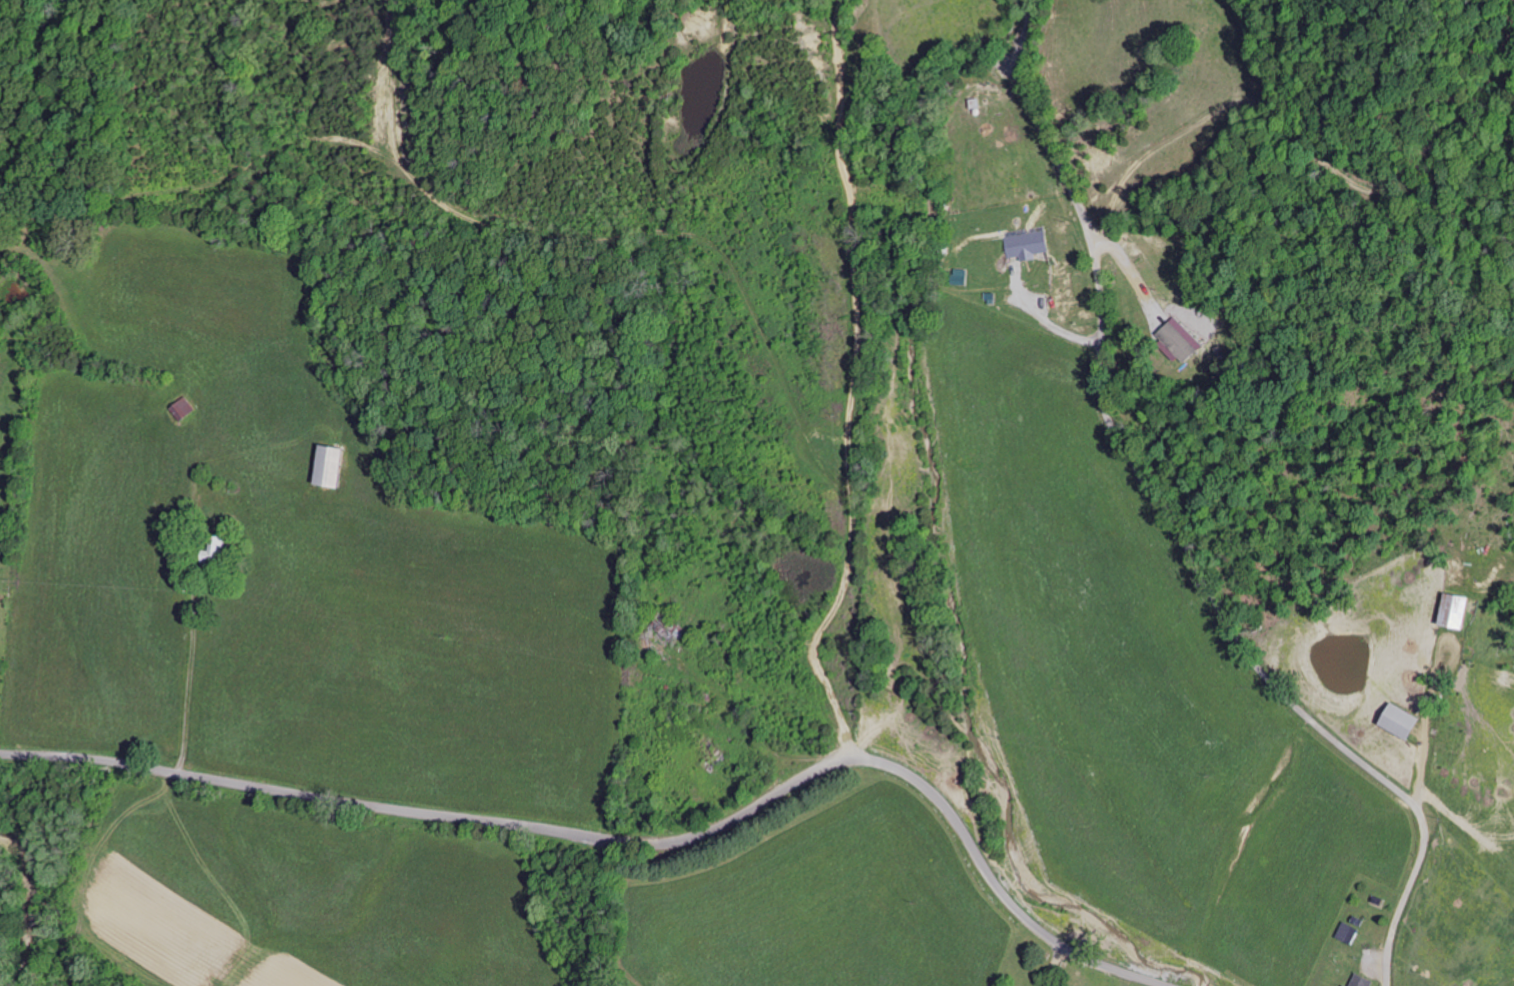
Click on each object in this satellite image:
building: (1026, 245)
building: (1177, 339)
building: (183, 408)
building: (332, 467)
road: (1171, 526)
building: (1456, 612)
building: (1400, 722)
road: (633, 841)
building: (1347, 932)
building: (1362, 980)
building: (1345, 985)

